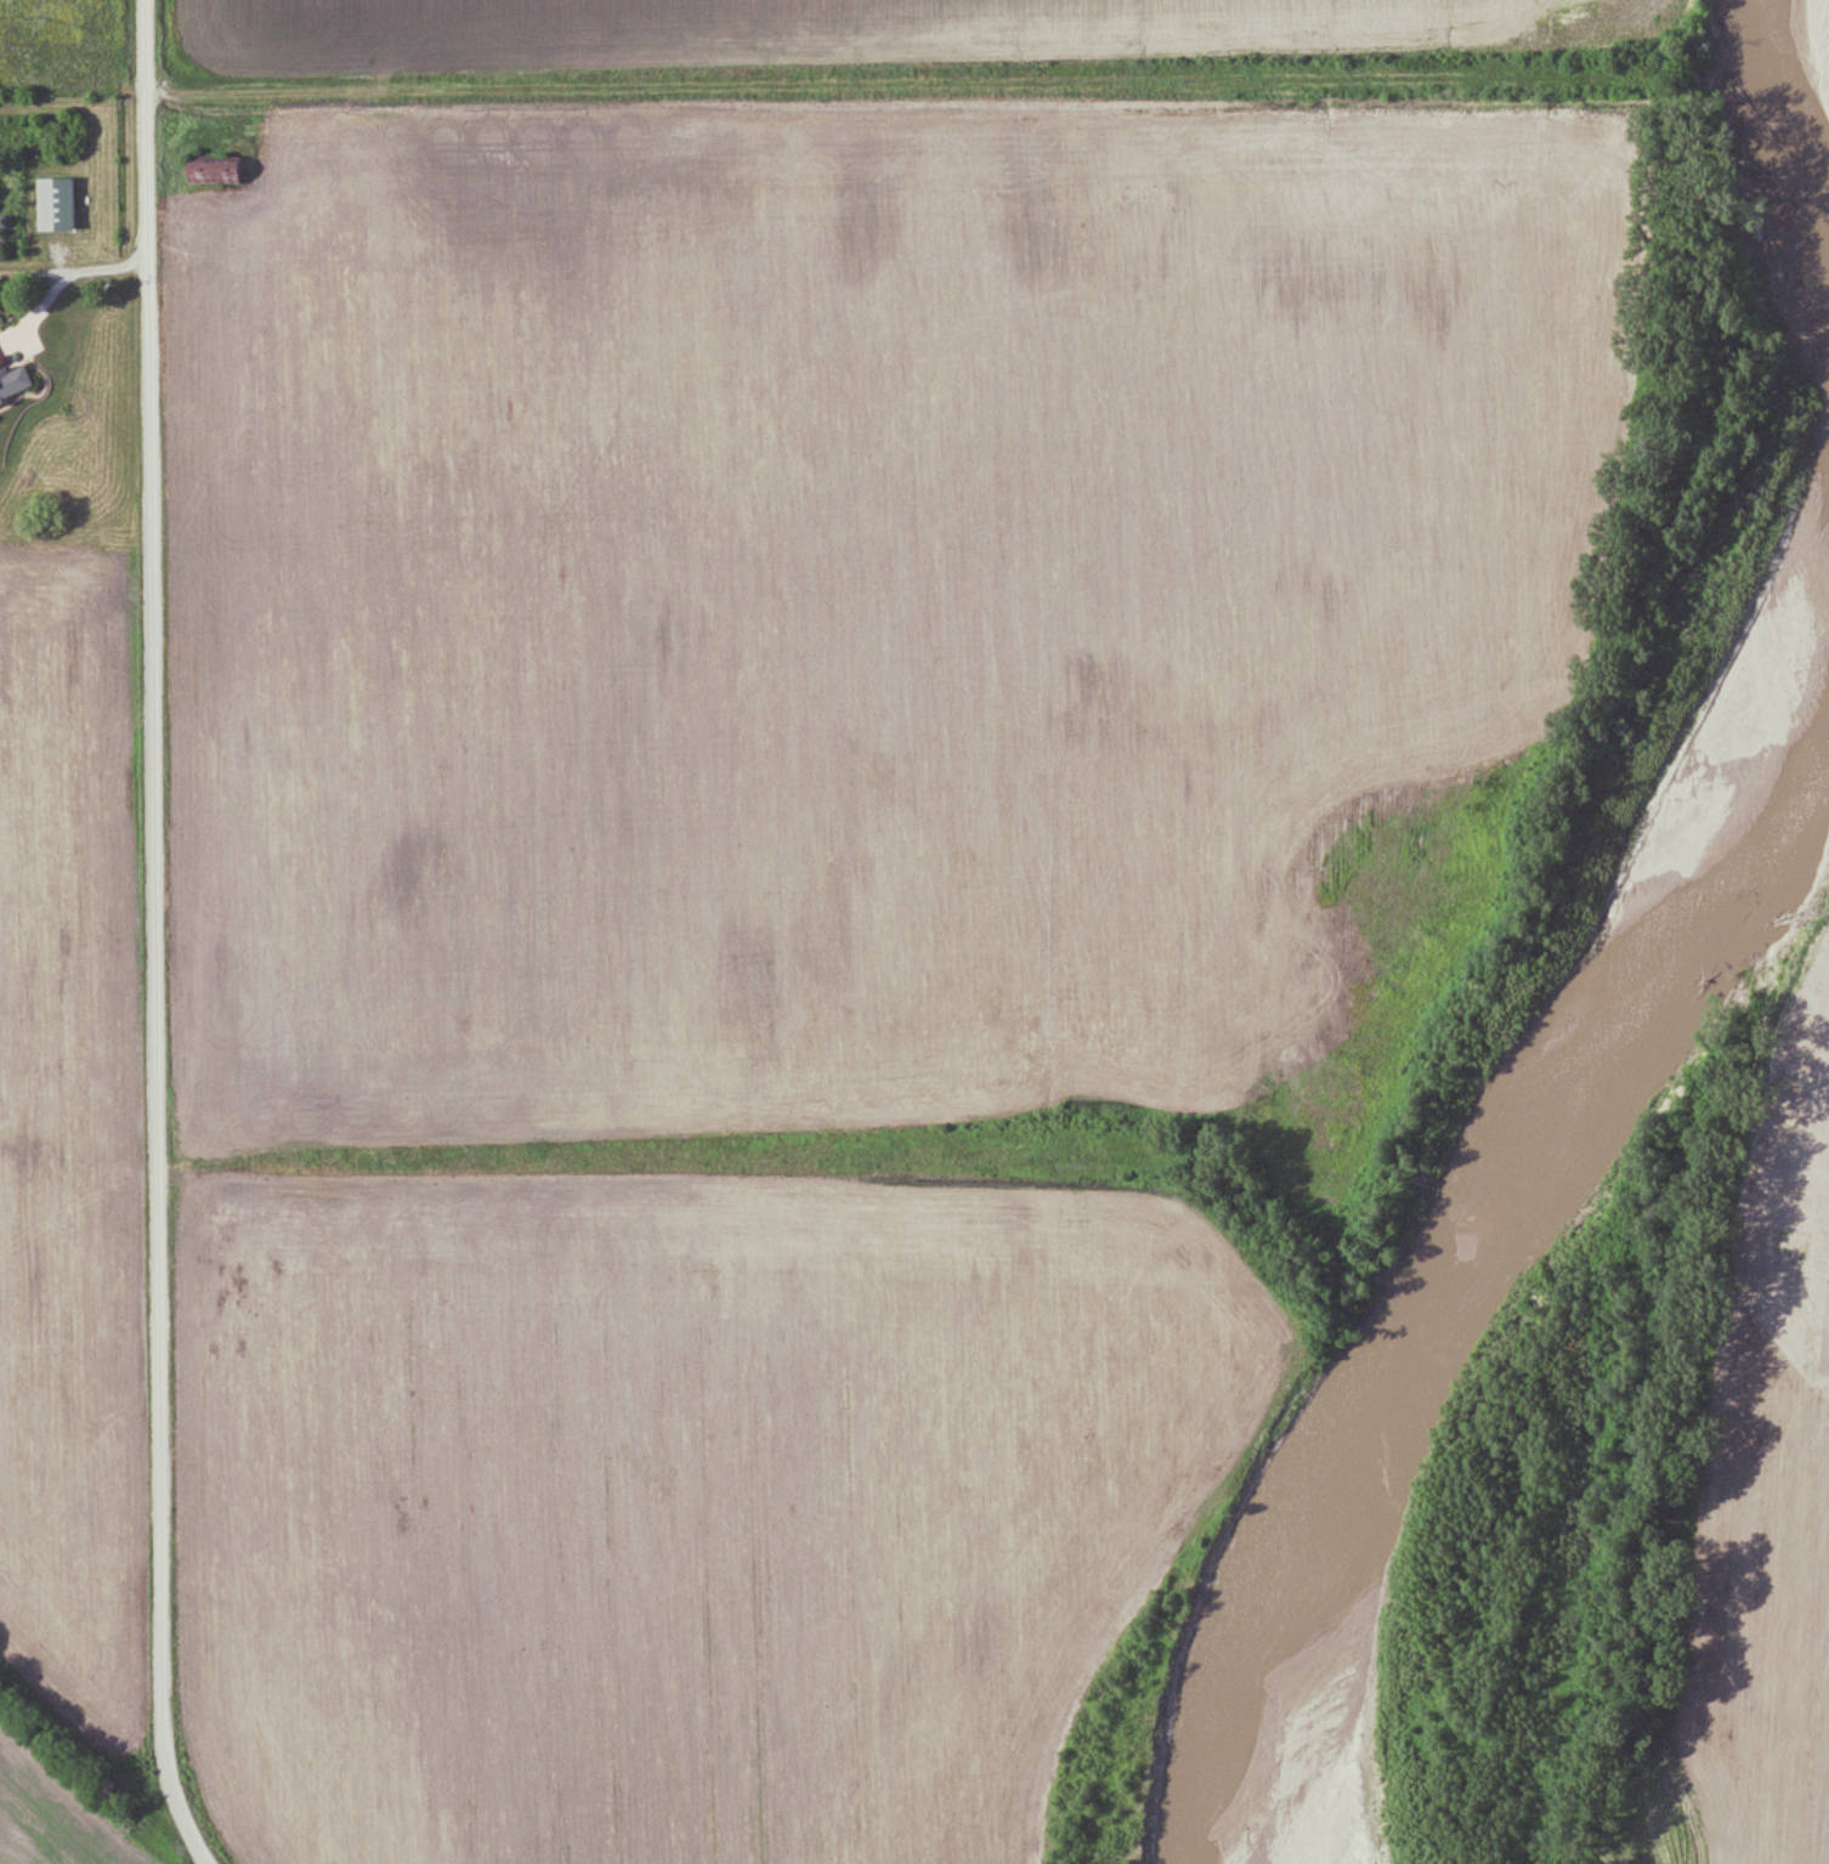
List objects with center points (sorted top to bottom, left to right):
road: (891, 97)
building: (52, 204)
road: (74, 270)
building: (11, 385)
road: (155, 935)

